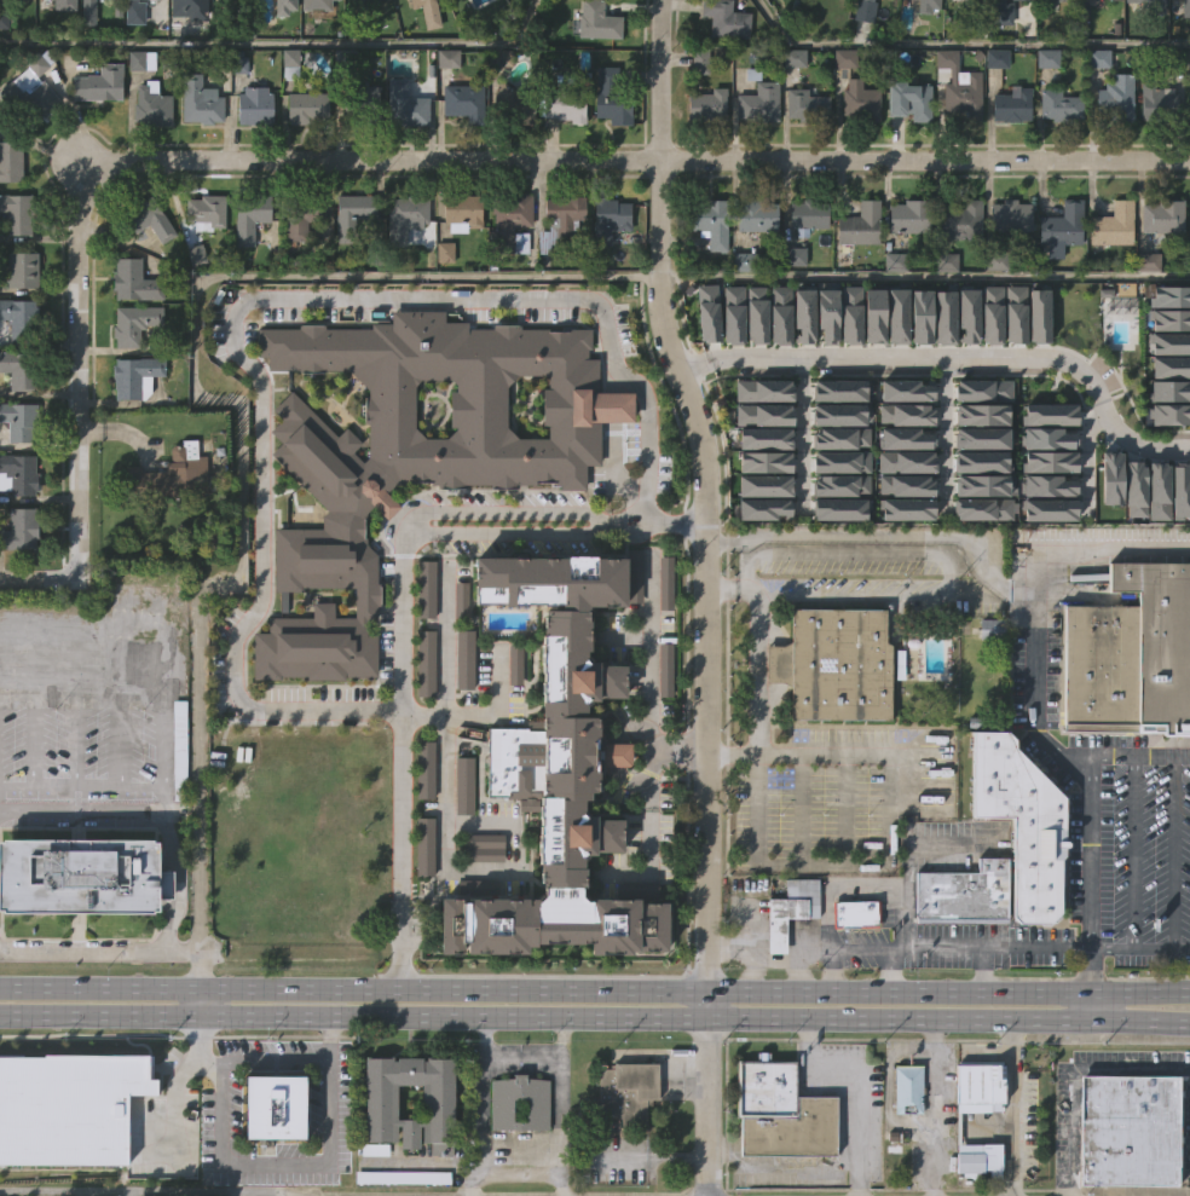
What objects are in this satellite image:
building: (489, 0)
building: (954, 0)
building: (1065, 0)
building: (362, 1)
building: (509, 1)
building: (421, 2)
building: (1094, 2)
building: (1153, 4)
building: (63, 5)
building: (316, 5)
building: (928, 5)
building: (976, 5)
building: (187, 7)
building: (283, 7)
building: (1186, 8)
building: (137, 12)
building: (1003, 12)
building: (831, 15)
building: (785, 17)
building: (727, 19)
building: (599, 21)
building: (874, 23)
building: (270, 25)
building: (954, 29)
building: (13, 30)
building: (230, 30)
building: (1096, 33)
building: (1052, 34)
building: (366, 35)
building: (922, 35)
building: (56, 37)
building: (317, 39)
building: (414, 39)
building: (1139, 39)
building: (94, 40)
building: (1178, 40)
building: (186, 41)
road: (281, 42)
road: (963, 44)
building: (282, 47)
building: (1004, 47)
building: (140, 60)
building: (861, 60)
building: (289, 64)
building: (722, 69)
building: (1, 70)
building: (594, 71)
building: (98, 82)
building: (960, 86)
building: (33, 91)
building: (611, 97)
building: (1116, 98)
building: (1157, 99)
building: (200, 100)
building: (360, 100)
building: (761, 102)
building: (911, 102)
building: (464, 103)
building: (565, 103)
building: (807, 103)
building: (862, 103)
building: (1061, 104)
building: (151, 105)
building: (405, 105)
building: (514, 105)
building: (709, 105)
building: (1013, 105)
building: (255, 106)
building: (307, 109)
building: (840, 109)
building: (1094, 109)
building: (237, 112)
building: (97, 134)
building: (958, 139)
building: (363, 145)
building: (1189, 146)
building: (607, 149)
building: (1111, 149)
building: (197, 151)
building: (906, 151)
building: (1153, 151)
building: (461, 152)
building: (756, 152)
building: (705, 154)
building: (856, 154)
building: (149, 155)
building: (252, 155)
building: (803, 155)
building: (1007, 155)
building: (403, 156)
building: (513, 156)
building: (305, 157)
building: (1056, 157)
building: (560, 158)
road: (642, 160)
building: (11, 162)
road: (655, 178)
building: (204, 213)
building: (462, 213)
building: (16, 214)
building: (301, 215)
building: (352, 215)
building: (757, 215)
building: (809, 216)
building: (1011, 216)
building: (1165, 216)
building: (250, 218)
building: (911, 218)
building: (148, 219)
building: (608, 219)
building: (404, 220)
building: (560, 221)
building: (963, 221)
building: (712, 223)
building: (510, 224)
building: (861, 225)
building: (1110, 225)
building: (1064, 226)
building: (203, 262)
building: (460, 262)
building: (350, 265)
building: (906, 266)
building: (1006, 266)
building: (300, 267)
building: (402, 267)
building: (753, 267)
building: (804, 267)
building: (1159, 267)
building: (247, 268)
building: (22, 270)
building: (148, 270)
building: (606, 270)
building: (508, 271)
building: (958, 271)
building: (1189, 271)
building: (707, 272)
road: (922, 273)
building: (856, 275)
building: (1109, 275)
building: (1059, 276)
building: (134, 282)
building: (1172, 290)
road: (244, 297)
building: (441, 302)
building: (193, 305)
building: (791, 306)
building: (707, 311)
building: (803, 312)
building: (1144, 312)
road: (196, 313)
building: (733, 313)
building: (755, 313)
building: (779, 313)
building: (827, 313)
building: (850, 313)
building: (967, 313)
building: (990, 313)
building: (1013, 313)
building: (1038, 313)
building: (1171, 313)
building: (873, 314)
building: (896, 314)
building: (920, 316)
building: (943, 316)
building: (18, 318)
building: (134, 324)
building: (1171, 337)
road: (952, 354)
building: (1171, 362)
building: (705, 363)
building: (729, 364)
building: (753, 364)
building: (776, 364)
building: (848, 364)
building: (965, 364)
building: (988, 364)
building: (1011, 364)
road: (76, 365)
building: (801, 365)
building: (825, 365)
building: (871, 365)
building: (894, 365)
building: (1035, 365)
building: (918, 366)
building: (941, 368)
building: (18, 370)
building: (137, 376)
building: (839, 385)
building: (907, 385)
building: (982, 385)
building: (1169, 385)
building: (762, 386)
building: (1171, 408)
building: (838, 409)
building: (982, 409)
building: (763, 410)
building: (907, 410)
building: (1050, 410)
building: (18, 421)
building: (132, 427)
building: (840, 432)
building: (906, 433)
building: (982, 433)
building: (764, 434)
road: (802, 434)
road: (941, 434)
building: (1047, 434)
building: (1167, 440)
building: (417, 446)
road: (1086, 455)
building: (981, 456)
building: (764, 457)
building: (840, 457)
building: (906, 457)
building: (1050, 457)
building: (1168, 464)
building: (1113, 472)
building: (18, 473)
building: (171, 474)
building: (766, 479)
building: (840, 480)
building: (906, 480)
building: (982, 480)
building: (1047, 480)
building: (1136, 483)
building: (1159, 485)
building: (1180, 485)
building: (764, 503)
building: (840, 503)
building: (907, 504)
building: (981, 504)
building: (1049, 504)
building: (164, 524)
building: (1108, 527)
building: (19, 528)
building: (838, 535)
building: (903, 535)
building: (978, 535)
building: (762, 536)
building: (1045, 536)
road: (884, 537)
building: (1132, 538)
building: (1155, 541)
building: (1178, 542)
building: (761, 559)
building: (837, 559)
building: (980, 559)
building: (905, 560)
building: (1046, 560)
building: (635, 572)
building: (18, 579)
road: (46, 579)
building: (665, 579)
building: (426, 585)
road: (974, 589)
road: (849, 591)
building: (460, 600)
road: (402, 601)
building: (631, 625)
building: (993, 628)
building: (663, 632)
building: (1159, 637)
road: (756, 641)
building: (463, 655)
building: (426, 659)
building: (514, 660)
building: (837, 663)
building: (665, 665)
building: (1099, 665)
building: (987, 677)
road: (646, 682)
road: (1035, 707)
building: (461, 709)
building: (422, 712)
road: (476, 712)
building: (512, 713)
building: (831, 715)
building: (662, 720)
building: (896, 721)
road: (837, 746)
road: (441, 747)
road: (1130, 759)
building: (559, 763)
building: (424, 768)
road: (705, 772)
building: (463, 781)
building: (175, 799)
road: (802, 802)
road: (843, 803)
building: (613, 804)
road: (645, 809)
road: (150, 814)
building: (422, 819)
building: (553, 821)
building: (882, 825)
building: (1039, 828)
building: (461, 834)
road: (200, 840)
building: (426, 843)
building: (483, 844)
road: (1132, 853)
road: (1173, 854)
road: (766, 859)
building: (81, 876)
building: (476, 883)
building: (637, 885)
building: (421, 896)
building: (792, 909)
building: (856, 913)
road: (747, 923)
building: (79, 925)
road: (728, 941)
road: (891, 943)
building: (960, 944)
road: (1085, 946)
road: (749, 948)
road: (100, 951)
road: (758, 957)
building: (787, 960)
building: (851, 964)
road: (801, 965)
road: (833, 965)
road: (889, 966)
road: (982, 967)
road: (201, 982)
road: (594, 987)
road: (1088, 1004)
road: (595, 1015)
road: (201, 1040)
road: (520, 1050)
road: (265, 1057)
road: (1068, 1073)
road: (859, 1079)
building: (982, 1085)
building: (908, 1090)
building: (626, 1091)
road: (171, 1098)
building: (444, 1099)
road: (479, 1105)
road: (558, 1105)
road: (1015, 1107)
building: (273, 1108)
building: (502, 1110)
building: (782, 1113)
building: (1132, 1131)
building: (976, 1136)
building: (903, 1139)
building: (623, 1140)
road: (518, 1144)
building: (68, 1148)
building: (515, 1152)
building: (271, 1156)
road: (295, 1157)
building: (776, 1157)
building: (403, 1177)
building: (371, 1194)
building: (974, 1195)

